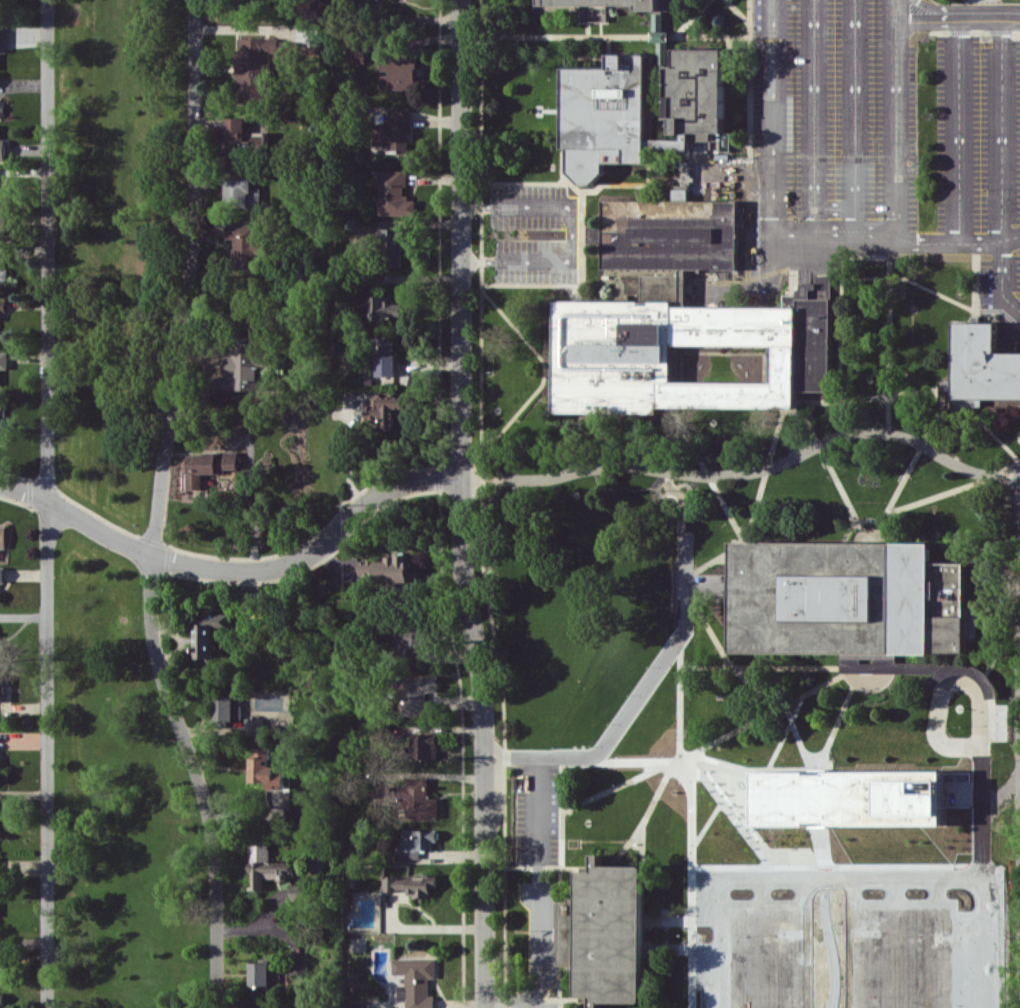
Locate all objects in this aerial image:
road: (736, 11)
road: (957, 15)
road: (691, 18)
road: (488, 31)
road: (957, 31)
building: (659, 34)
road: (558, 36)
road: (705, 36)
building: (3, 38)
road: (608, 45)
road: (566, 51)
building: (357, 54)
road: (741, 61)
building: (254, 66)
road: (653, 68)
building: (398, 72)
road: (649, 83)
building: (694, 93)
building: (2, 107)
road: (771, 114)
road: (812, 114)
road: (853, 114)
road: (654, 115)
building: (606, 117)
road: (895, 118)
parking lot: (824, 127)
road: (958, 128)
building: (394, 131)
building: (235, 134)
building: (2, 149)
parking lot: (981, 155)
road: (665, 160)
road: (724, 162)
road: (647, 166)
road: (1001, 166)
road: (749, 172)
road: (523, 181)
road: (605, 183)
road: (714, 184)
building: (242, 192)
road: (713, 192)
building: (3, 193)
building: (394, 193)
road: (832, 207)
building: (2, 223)
parking lot: (571, 233)
road: (571, 233)
building: (595, 233)
building: (667, 233)
road: (580, 237)
road: (896, 237)
building: (244, 244)
building: (392, 244)
building: (0, 264)
road: (889, 277)
road: (974, 281)
road: (559, 284)
road: (763, 291)
road: (575, 293)
building: (2, 306)
building: (386, 308)
building: (690, 326)
road: (1015, 326)
road: (888, 334)
road: (840, 346)
building: (386, 356)
building: (3, 359)
building: (242, 365)
road: (543, 367)
building: (978, 368)
road: (547, 371)
road: (679, 379)
road: (868, 396)
building: (385, 409)
building: (1, 425)
road: (993, 434)
road: (768, 461)
building: (211, 466)
road: (1011, 466)
road: (830, 469)
road: (497, 470)
road: (668, 470)
road: (750, 470)
road: (707, 472)
road: (905, 473)
road: (1019, 482)
road: (672, 488)
road: (950, 490)
road: (45, 503)
road: (463, 504)
road: (481, 504)
road: (156, 508)
park: (117, 513)
road: (869, 518)
building: (2, 536)
building: (385, 568)
road: (237, 569)
building: (2, 574)
road: (997, 575)
road: (707, 587)
building: (843, 595)
building: (0, 596)
road: (994, 628)
building: (209, 633)
building: (411, 640)
building: (2, 649)
road: (723, 652)
road: (1019, 664)
building: (852, 665)
road: (821, 666)
building: (889, 666)
road: (962, 666)
building: (1, 688)
building: (418, 692)
road: (779, 706)
building: (225, 708)
road: (894, 709)
building: (254, 726)
building: (423, 746)
road: (723, 757)
building: (265, 769)
building: (0, 771)
road: (619, 784)
road: (537, 785)
road: (978, 794)
building: (850, 797)
building: (421, 799)
parking lot: (536, 805)
building: (2, 807)
building: (295, 812)
road: (646, 814)
road: (829, 831)
building: (416, 842)
road: (641, 843)
road: (726, 854)
building: (267, 866)
road: (537, 867)
road: (537, 877)
road: (560, 878)
road: (766, 883)
road: (808, 883)
road: (852, 883)
road: (892, 883)
road: (933, 883)
building: (411, 884)
building: (916, 890)
parking lot: (831, 891)
building: (297, 892)
building: (605, 933)
road: (674, 948)
road: (747, 951)
road: (690, 955)
building: (299, 965)
building: (2, 969)
road: (537, 972)
building: (260, 973)
road: (727, 979)
building: (415, 981)
road: (556, 997)
building: (1, 1000)
road: (536, 1004)
building: (360, 1005)
road: (611, 1005)
road: (639, 1005)
building: (279, 1006)

